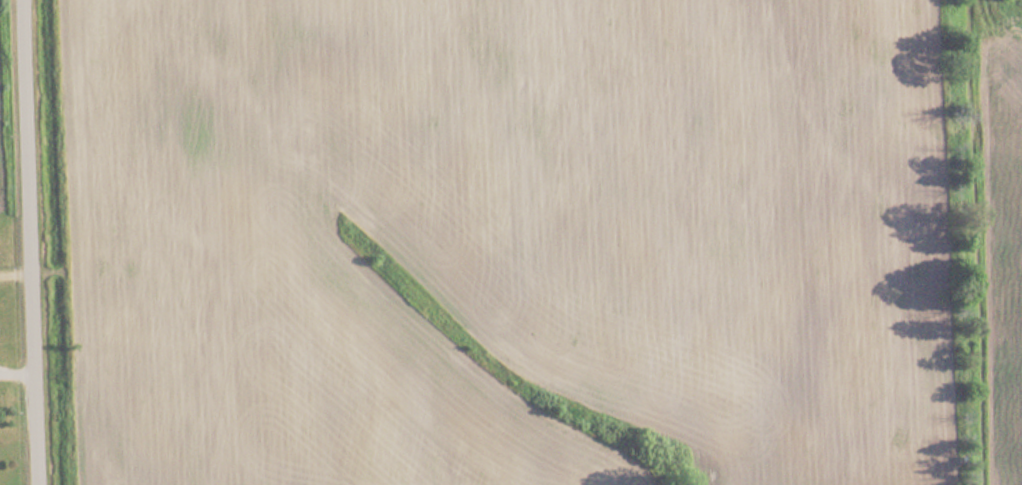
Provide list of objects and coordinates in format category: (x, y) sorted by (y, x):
road: (29, 242)

